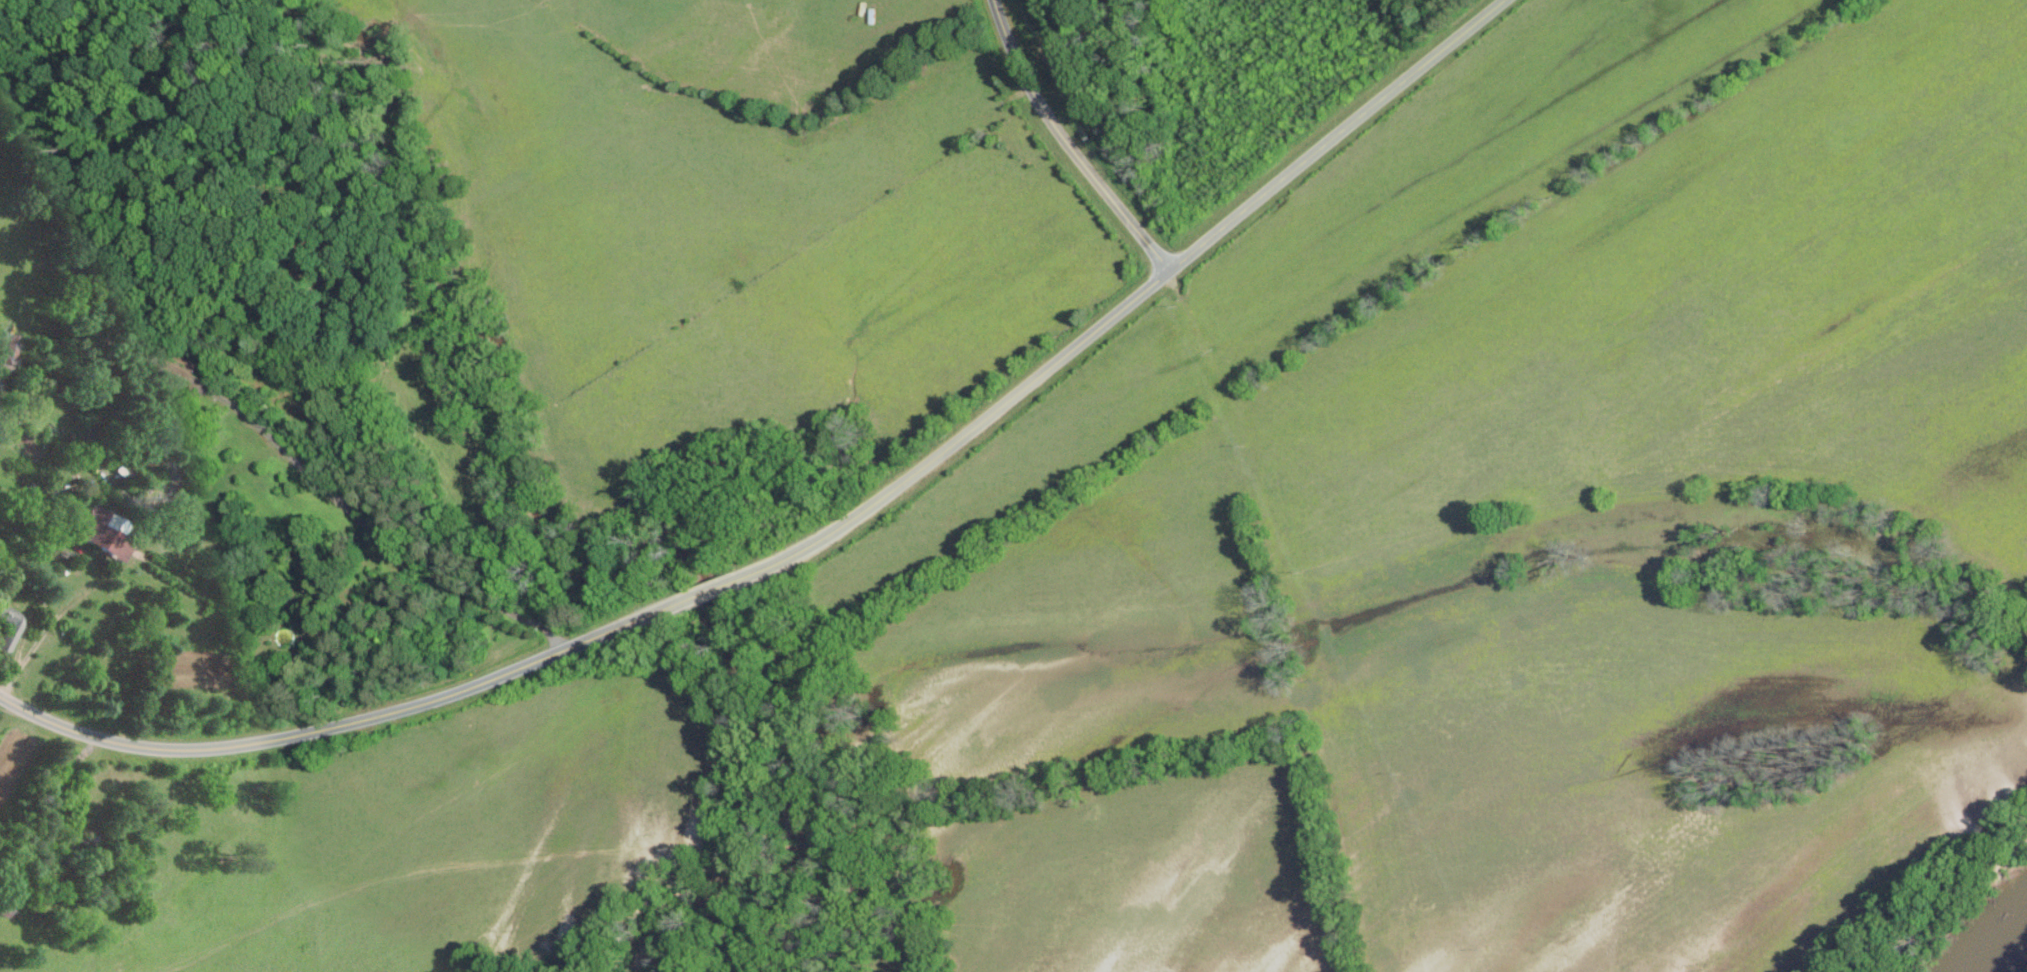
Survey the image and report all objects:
road: (1068, 141)
road: (1129, 300)
road: (420, 429)
building: (103, 530)
road: (713, 588)
road: (57, 615)
building: (11, 625)
road: (346, 722)
river: (1990, 940)

